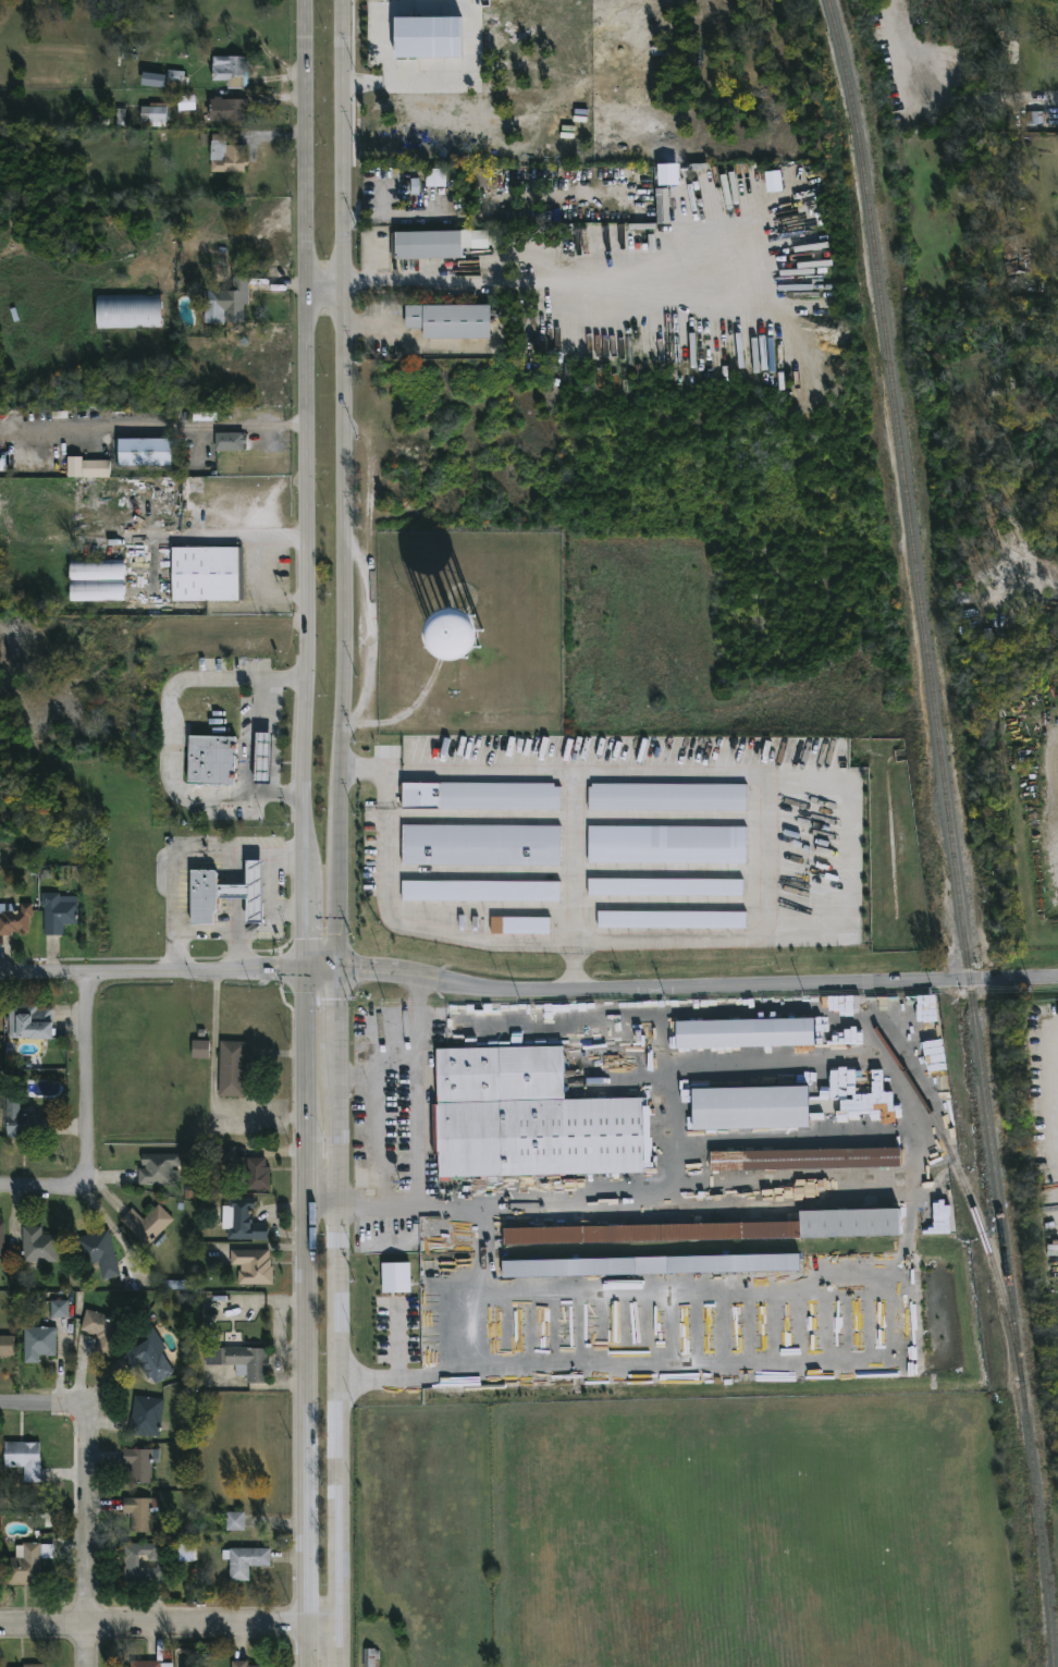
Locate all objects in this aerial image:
road: (471, 24)
building: (428, 37)
building: (230, 71)
building: (174, 77)
building: (153, 79)
building: (186, 103)
building: (226, 110)
building: (155, 112)
building: (1035, 112)
building: (226, 156)
building: (435, 177)
road: (402, 214)
road: (353, 217)
building: (430, 245)
building: (1016, 256)
road: (309, 269)
road: (369, 272)
road: (325, 281)
building: (225, 304)
building: (127, 311)
building: (451, 321)
road: (369, 324)
road: (342, 407)
building: (231, 442)
building: (145, 452)
building: (96, 469)
road: (234, 534)
road: (276, 555)
building: (205, 574)
building: (97, 579)
water tower: (464, 645)
road: (307, 713)
road: (253, 745)
building: (262, 758)
gas station: (262, 758)
building: (210, 759)
road: (1056, 765)
road: (567, 771)
building: (481, 796)
building: (667, 797)
railway: (951, 831)
building: (667, 845)
building: (481, 846)
road: (181, 850)
building: (665, 887)
building: (481, 891)
building: (248, 892)
gas station: (248, 892)
road: (341, 892)
building: (204, 895)
road: (290, 906)
building: (58, 912)
building: (14, 919)
building: (672, 920)
building: (520, 926)
road: (307, 929)
road: (266, 933)
road: (237, 952)
traffic signals: (307, 968)
road: (324, 968)
traffic signals: (343, 969)
road: (153, 971)
road: (699, 992)
building: (28, 1021)
road: (380, 1029)
building: (745, 1033)
building: (200, 1050)
building: (231, 1068)
road: (86, 1070)
building: (749, 1108)
building: (526, 1118)
building: (24, 1120)
building: (224, 1154)
road: (376, 1157)
building: (805, 1159)
building: (157, 1168)
building: (257, 1174)
railway: (961, 1174)
road: (47, 1189)
road: (324, 1196)
building: (934, 1219)
building: (241, 1221)
building: (146, 1224)
building: (731, 1229)
building: (1, 1240)
building: (37, 1246)
building: (97, 1253)
building: (651, 1265)
building: (251, 1266)
building: (396, 1277)
building: (59, 1309)
road: (489, 1312)
road: (308, 1316)
road: (340, 1317)
building: (100, 1331)
building: (37, 1343)
building: (5, 1346)
building: (147, 1361)
building: (241, 1362)
road: (37, 1400)
building: (145, 1417)
building: (23, 1457)
building: (140, 1463)
building: (140, 1513)
building: (235, 1521)
road: (91, 1532)
building: (186, 1553)
building: (27, 1561)
building: (244, 1561)
building: (140, 1565)
road: (169, 1626)
building: (371, 1657)
building: (149, 1664)
building: (243, 1664)
building: (32, 1665)

